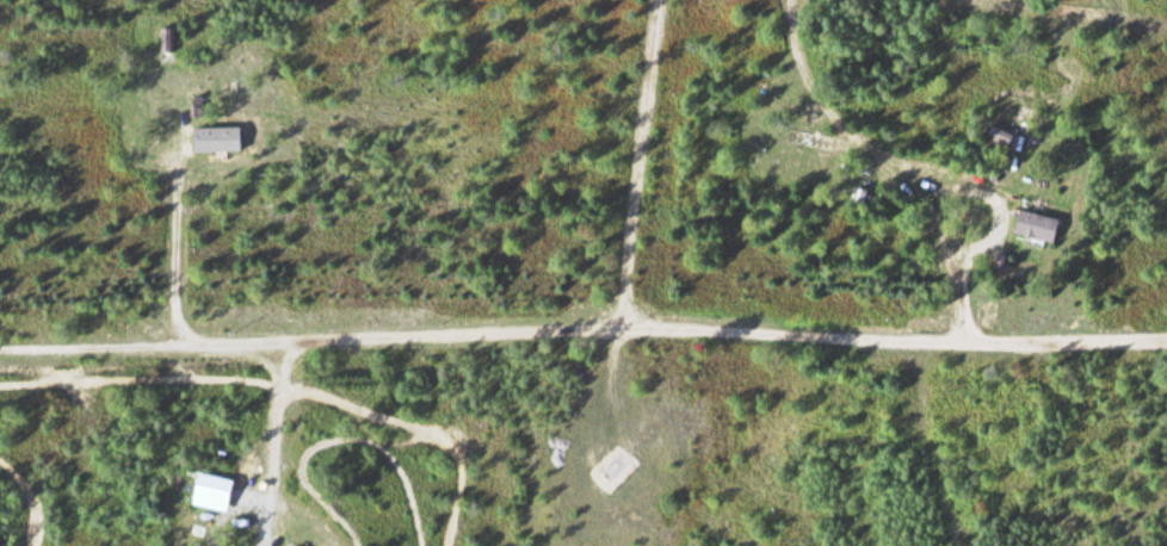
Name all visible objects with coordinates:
road: (1062, 13)
building: (218, 137)
building: (820, 142)
road: (641, 161)
road: (887, 161)
road: (998, 199)
building: (1038, 225)
road: (171, 234)
road: (678, 325)
road: (94, 346)
road: (285, 376)
road: (169, 380)
road: (381, 440)
road: (268, 441)
building: (209, 492)
road: (25, 500)
building: (294, 545)
building: (297, 545)

